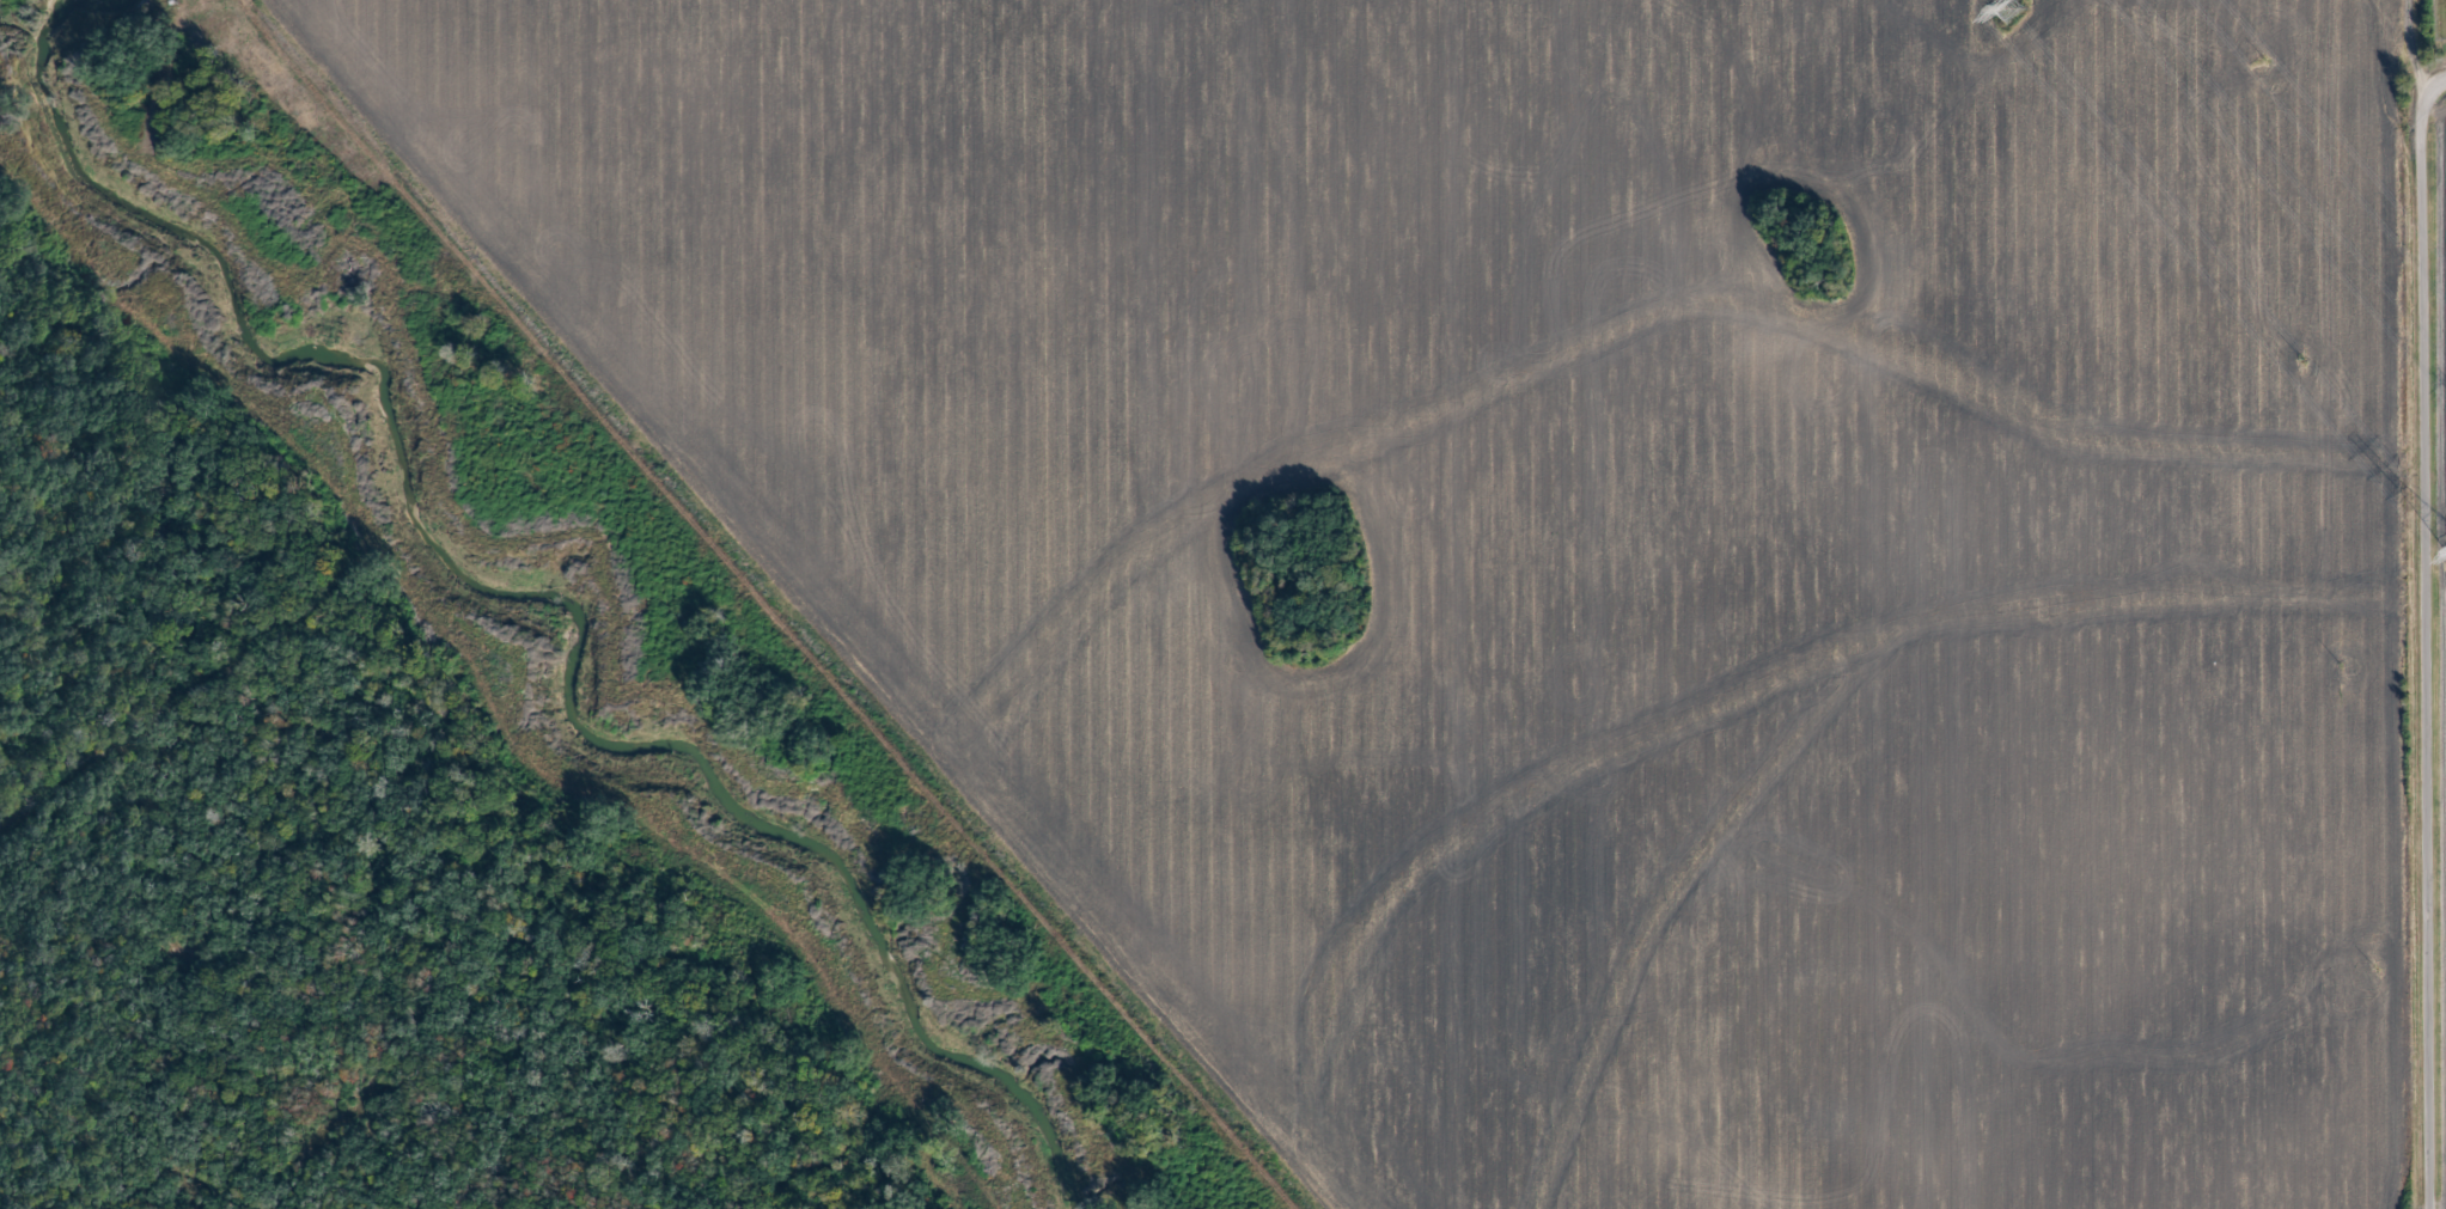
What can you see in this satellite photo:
power tower: (2014, 8)
road: (2429, 637)

